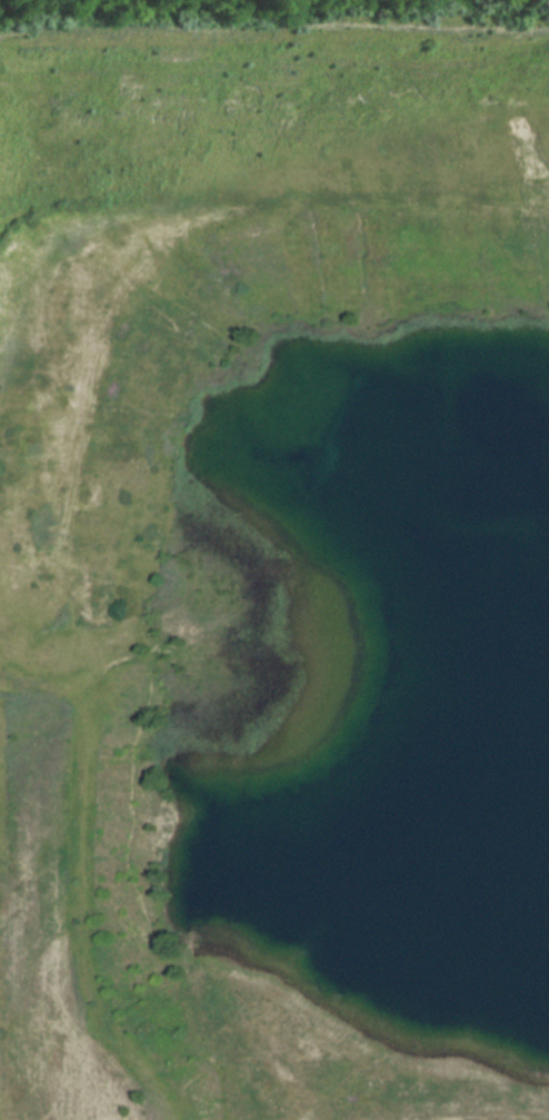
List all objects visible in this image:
quarry: (274, 574)

